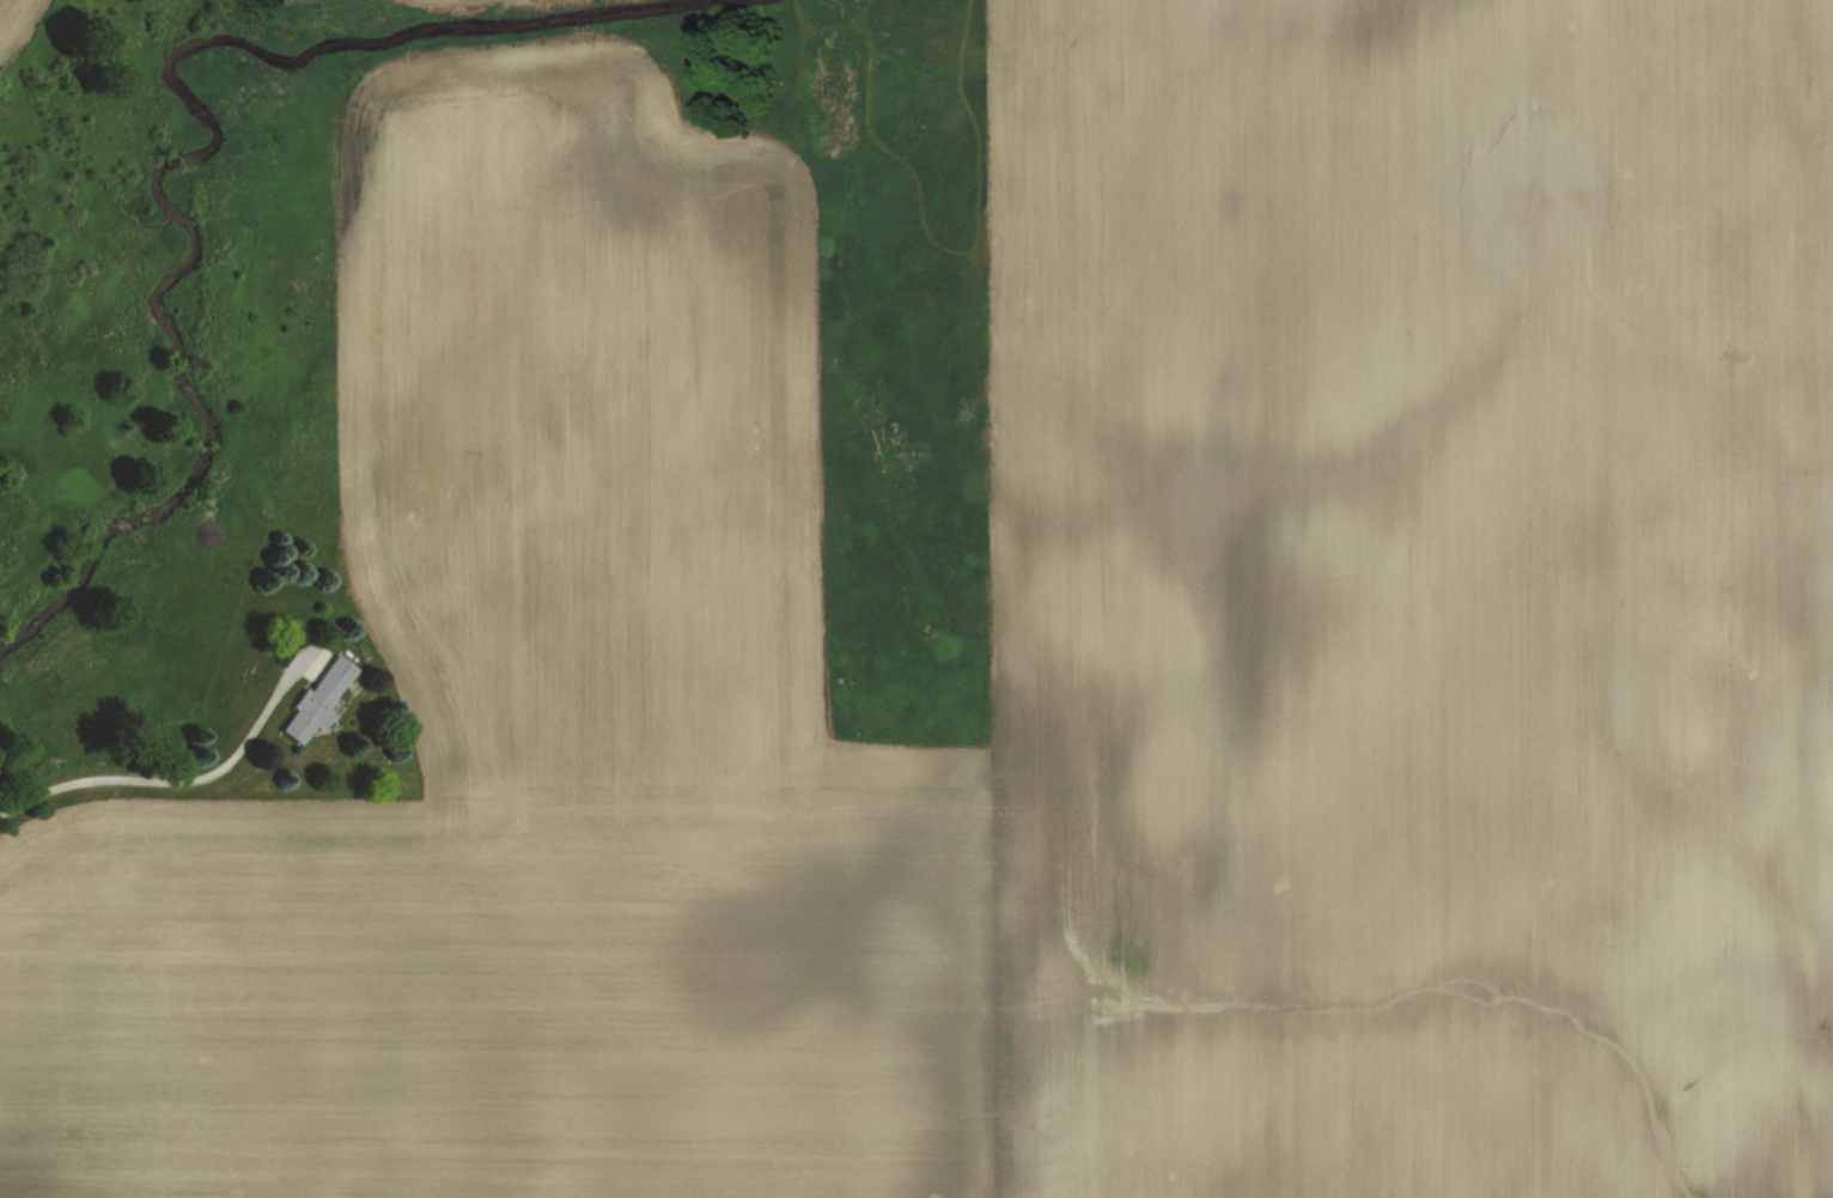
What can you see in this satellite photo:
crop: (1045, 658)
building: (311, 699)
road: (179, 779)

